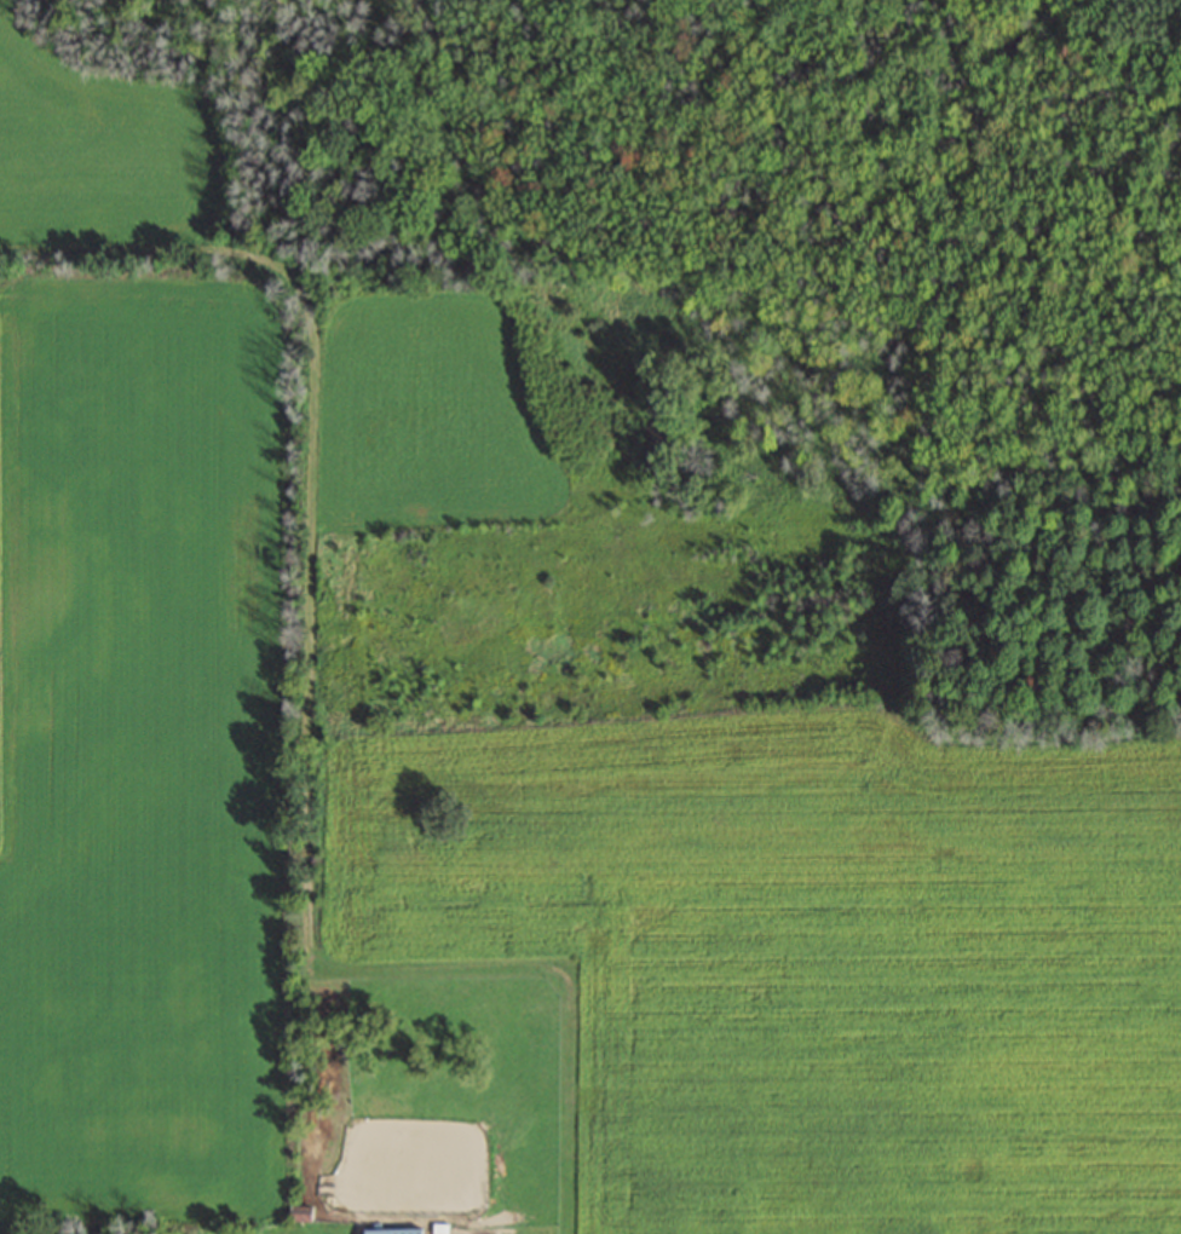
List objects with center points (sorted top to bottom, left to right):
building: (296, 1212)

